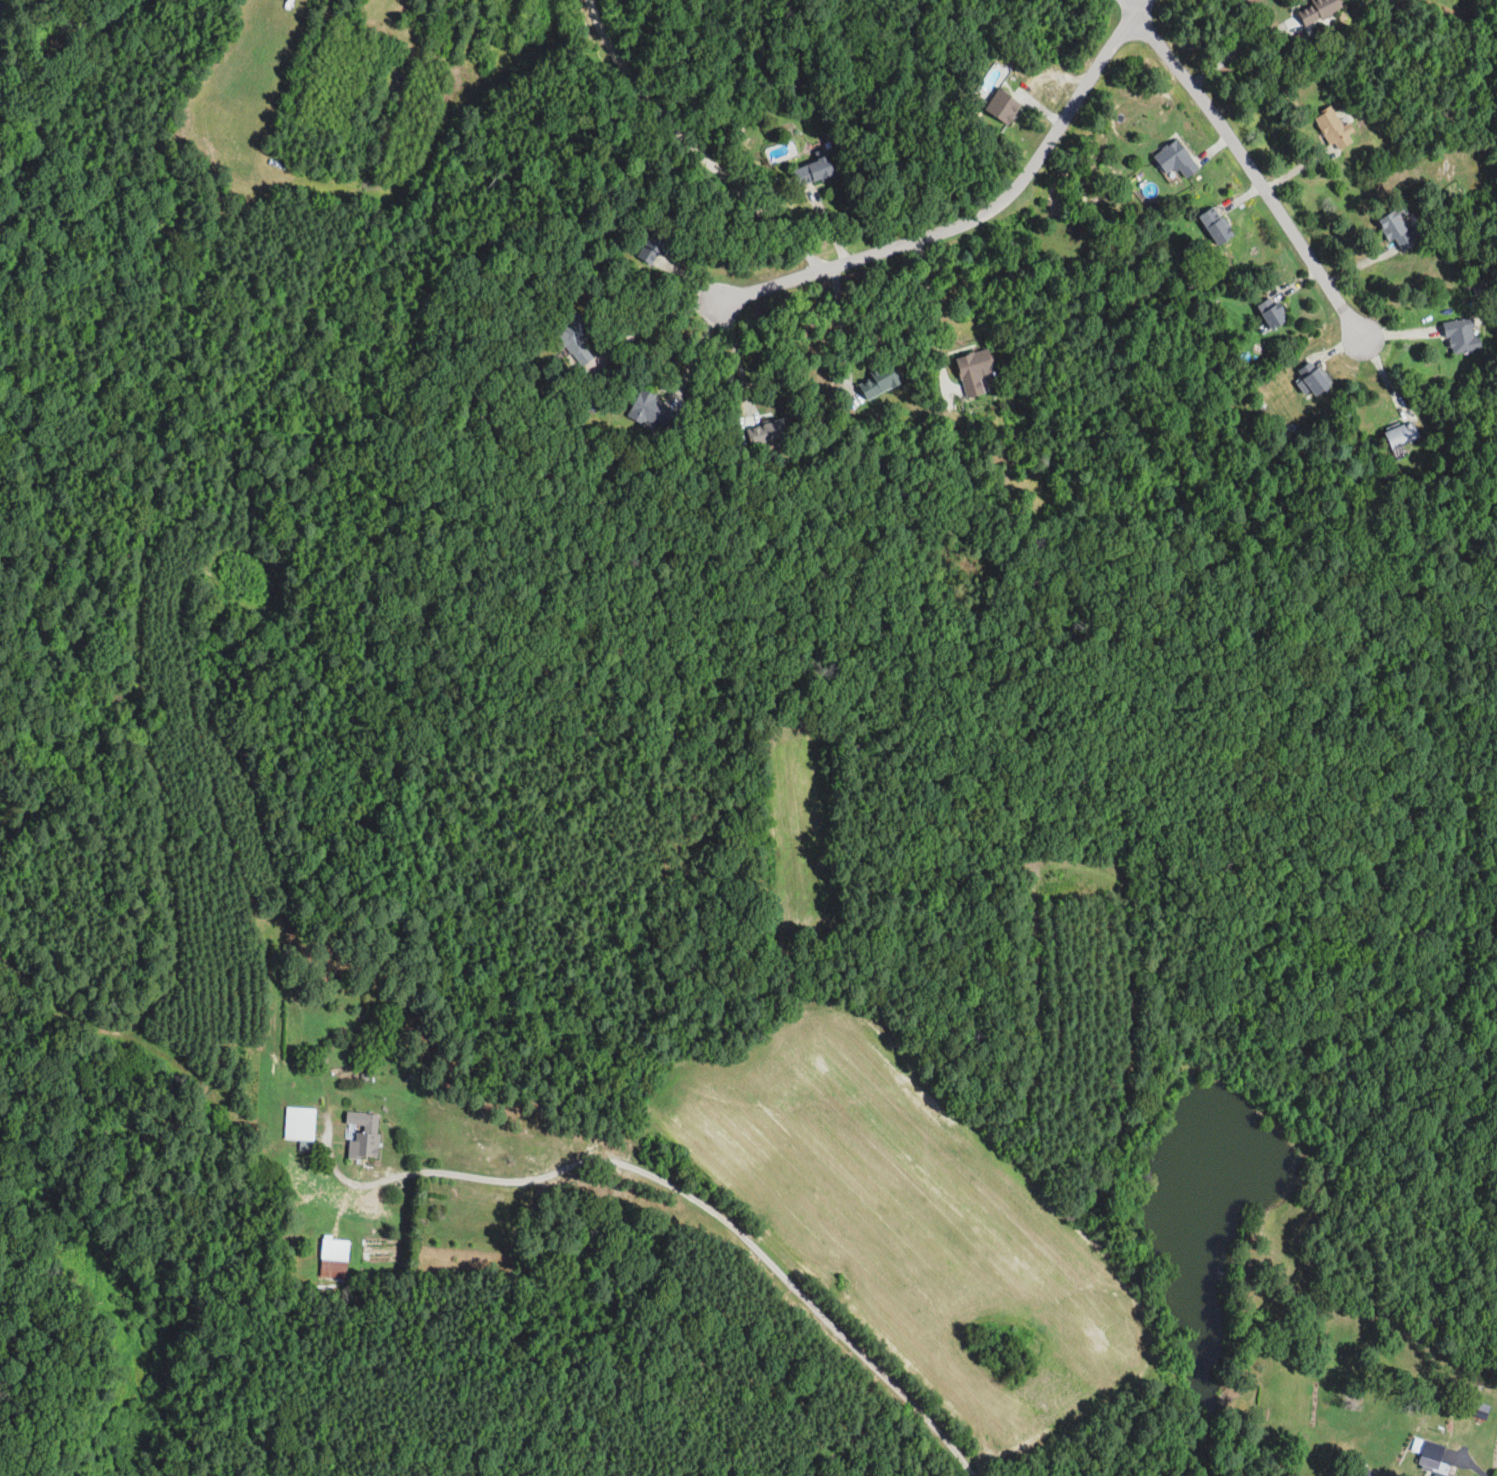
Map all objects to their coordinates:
building: (1318, 9)
road: (1240, 50)
building: (1003, 105)
building: (1333, 128)
road: (691, 146)
building: (1176, 159)
road: (1248, 168)
building: (813, 171)
road: (976, 215)
building: (1216, 225)
building: (1399, 229)
building: (654, 245)
building: (1273, 312)
road: (932, 314)
road: (653, 323)
road: (843, 332)
building: (572, 335)
building: (1463, 336)
road: (698, 350)
road: (737, 356)
building: (975, 371)
building: (1312, 378)
building: (878, 382)
building: (652, 411)
building: (766, 431)
building: (1401, 436)
building: (299, 1123)
building: (364, 1134)
road: (677, 1188)
building: (334, 1258)
building: (1432, 1450)
road: (1473, 1466)
building: (1440, 1474)

